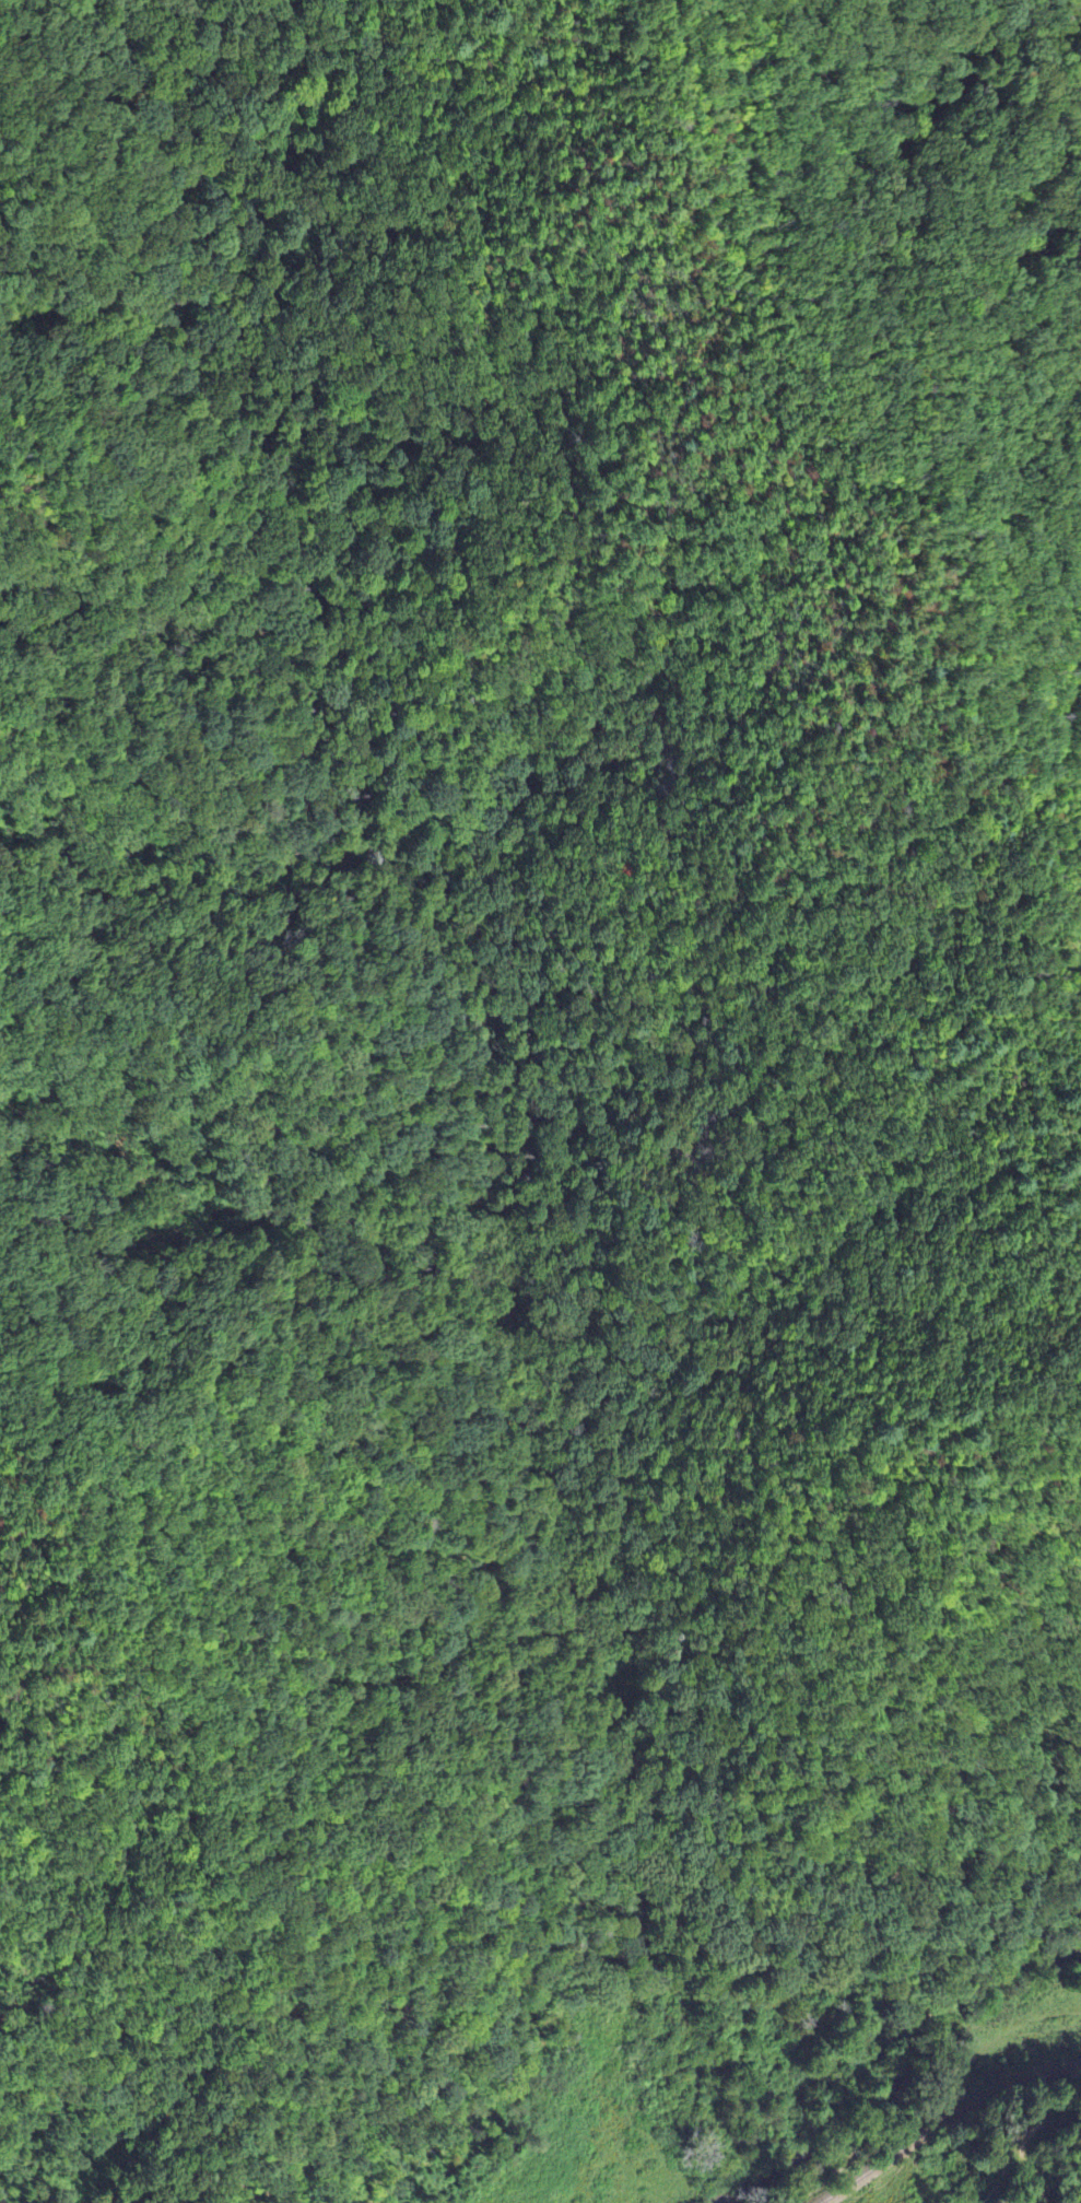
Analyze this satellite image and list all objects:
river: (902, 2083)
road: (907, 2117)
railway: (945, 2122)
road: (1024, 2148)

